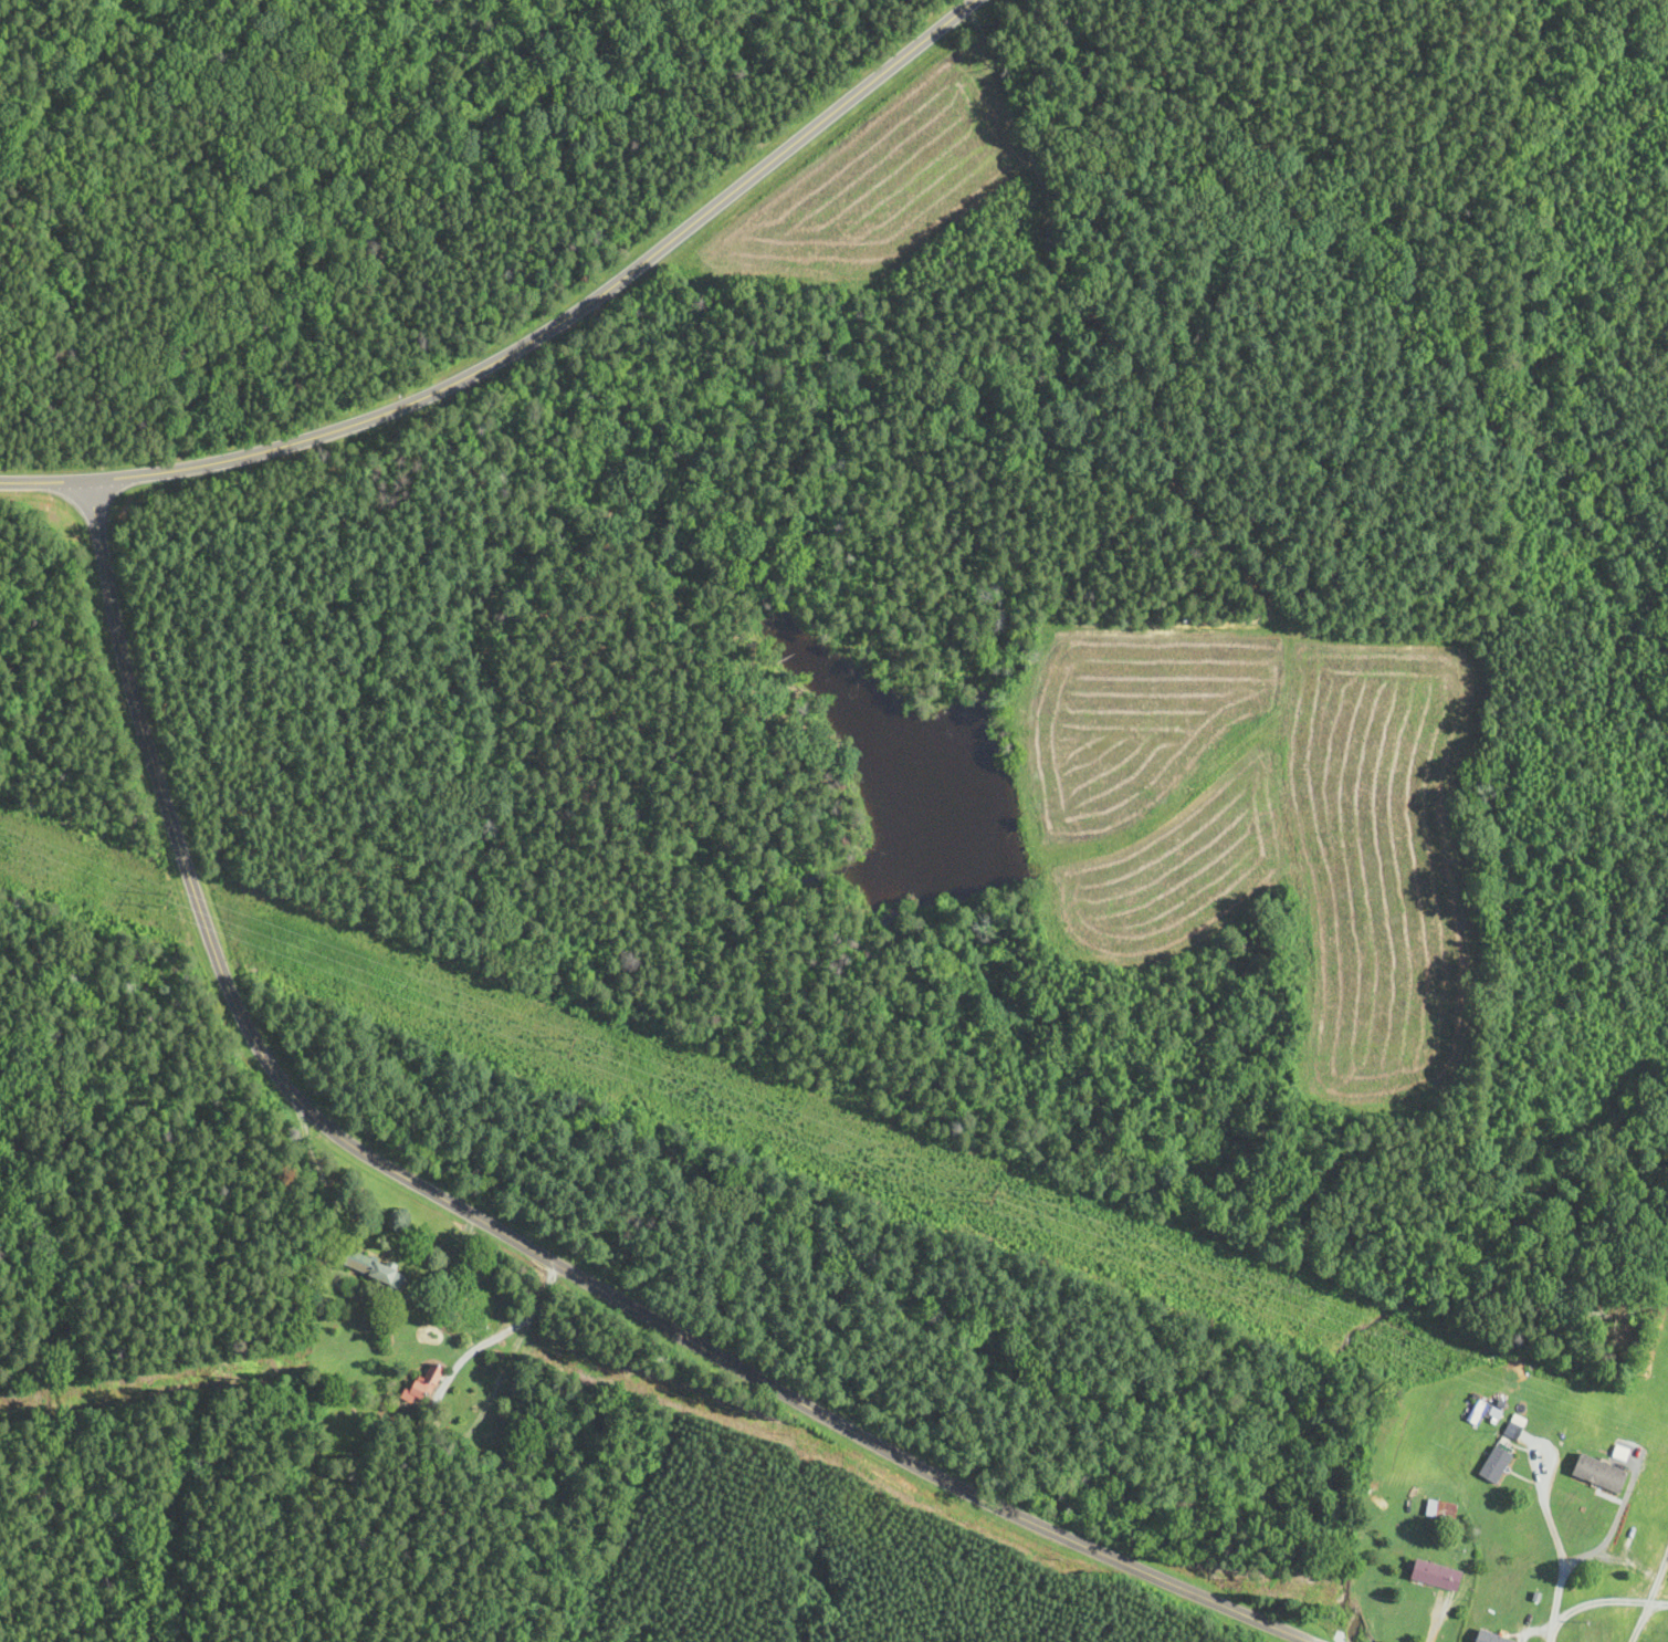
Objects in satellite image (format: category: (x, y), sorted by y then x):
road: (533, 343)
power tower: (127, 740)
power tower: (284, 785)
power tower: (752, 996)
road: (502, 1234)
building: (371, 1268)
power tower: (1478, 1275)
building: (422, 1385)
building: (1485, 1413)
building: (1497, 1465)
building: (1601, 1474)
building: (1443, 1510)
building: (1437, 1576)
road: (1644, 1614)
building: (1492, 1638)

